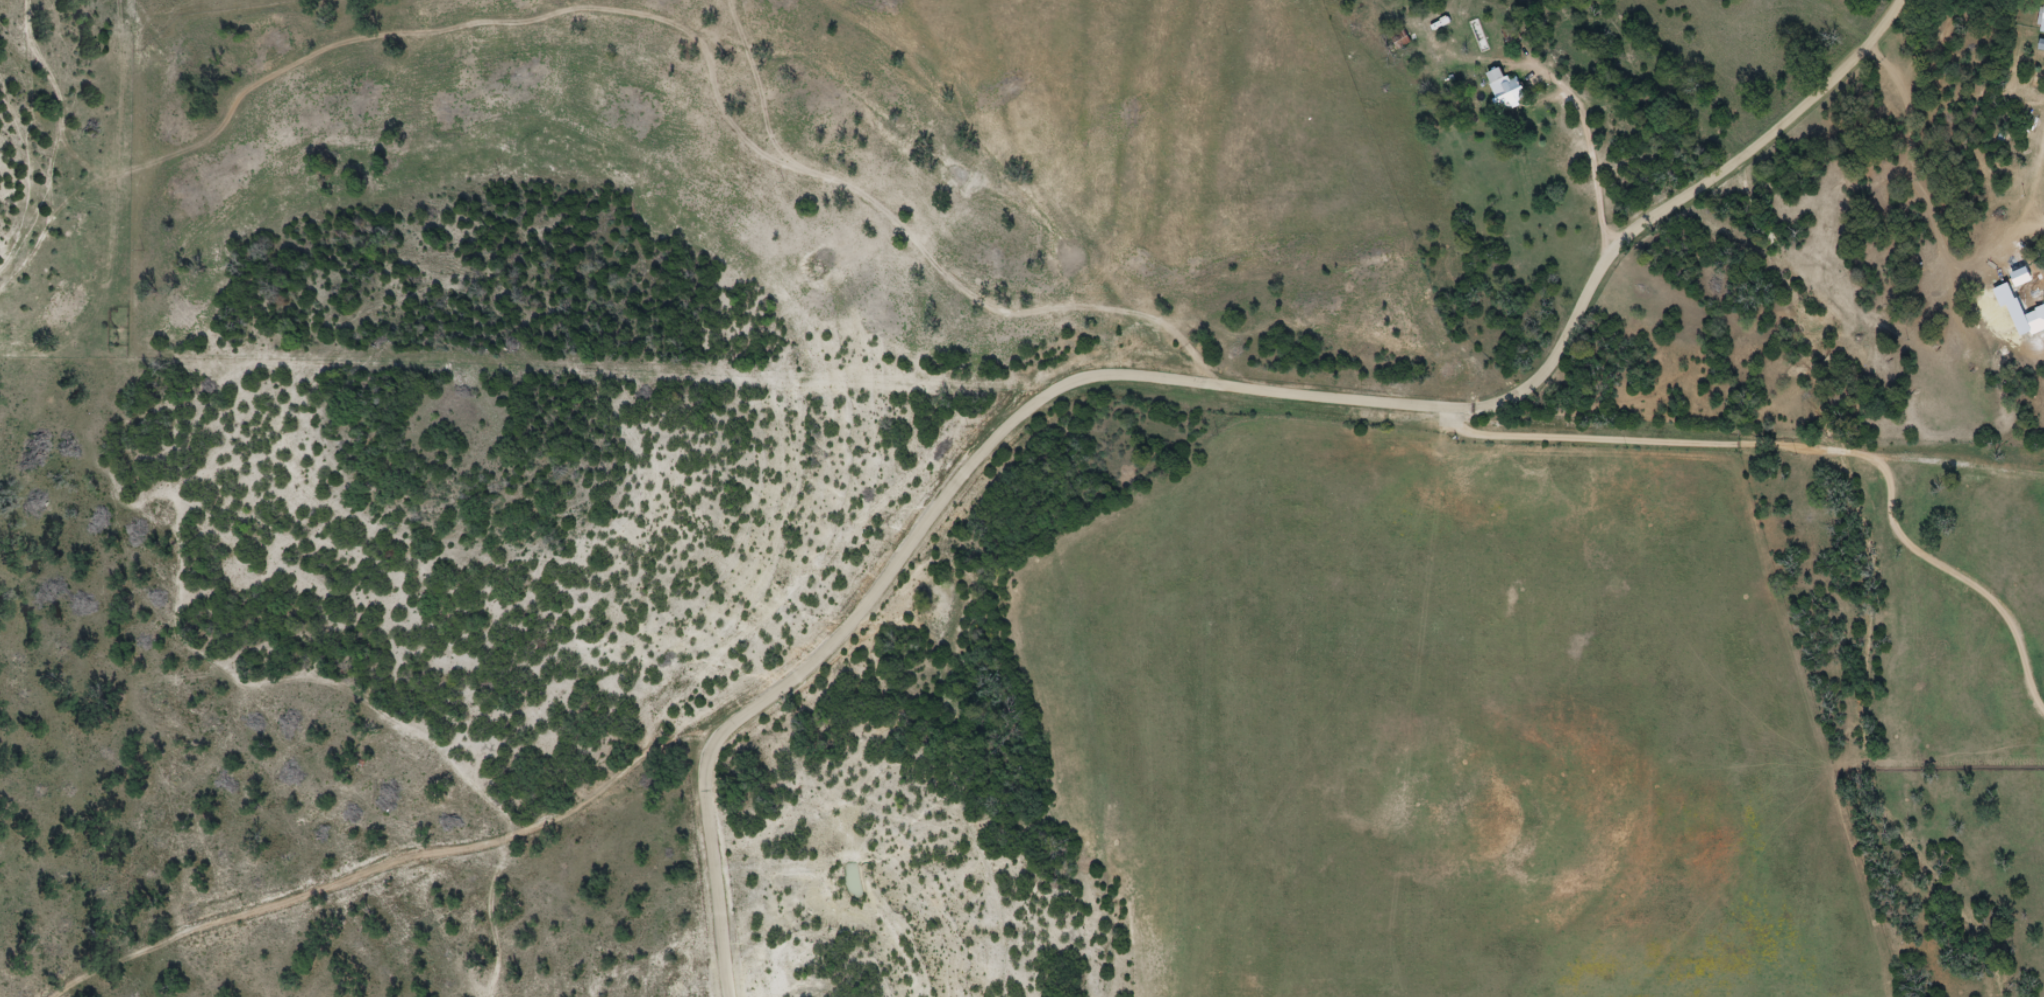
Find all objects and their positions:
building: (2043, 31)
building: (1510, 87)
road: (1782, 396)
road: (1210, 409)

